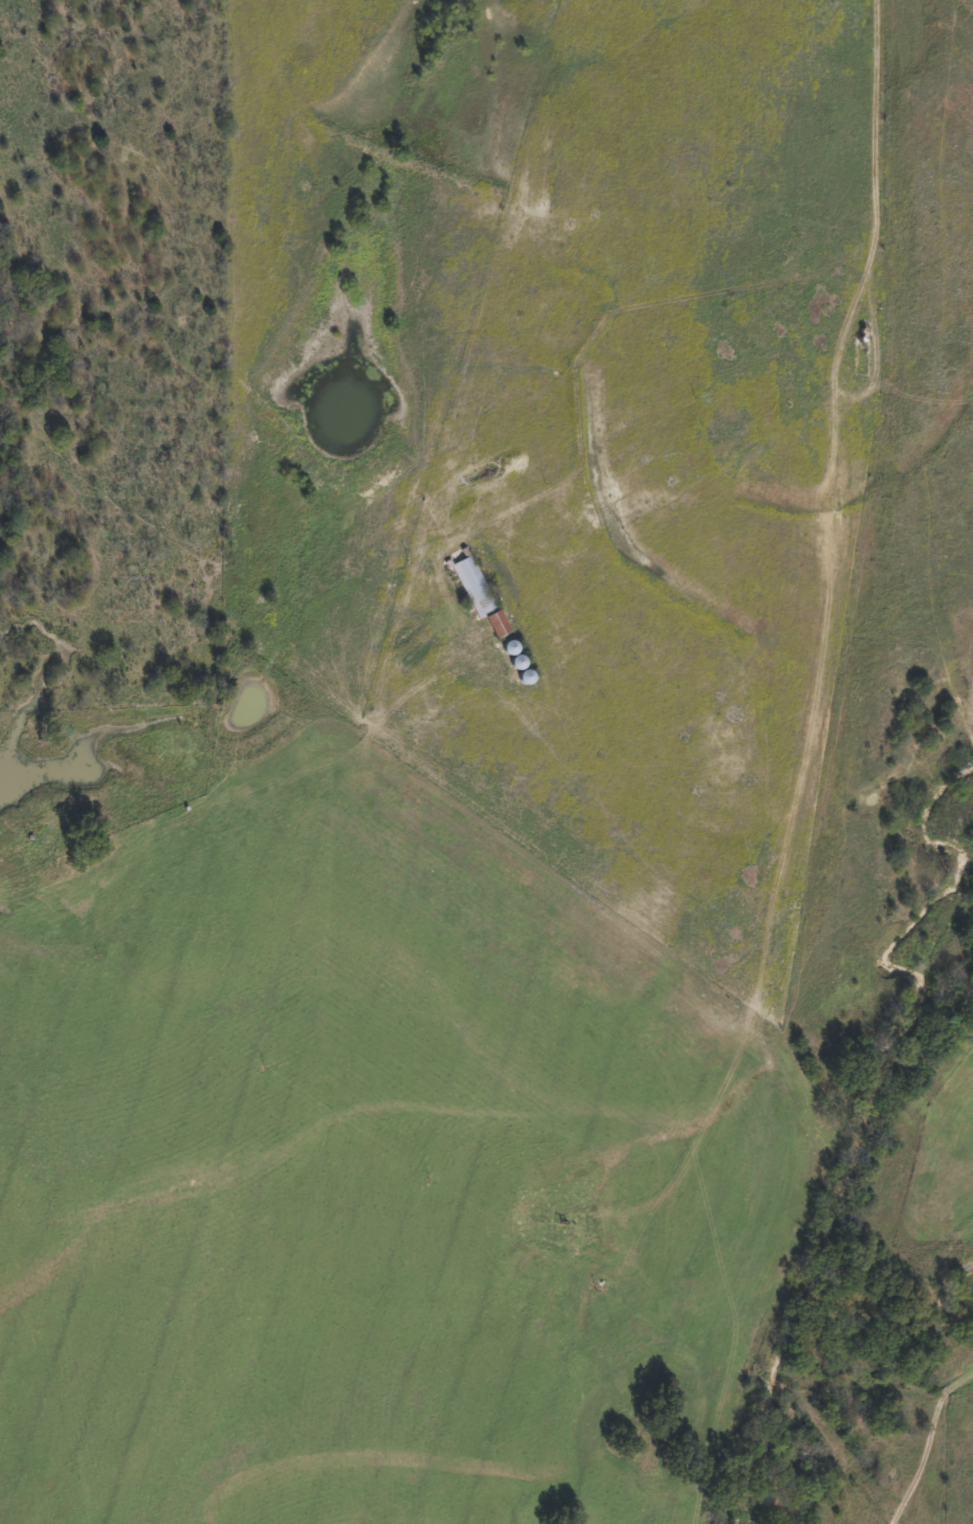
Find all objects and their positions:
building: (478, 595)
building: (508, 648)
building: (515, 662)
building: (523, 677)
road: (815, 760)
road: (952, 1483)

